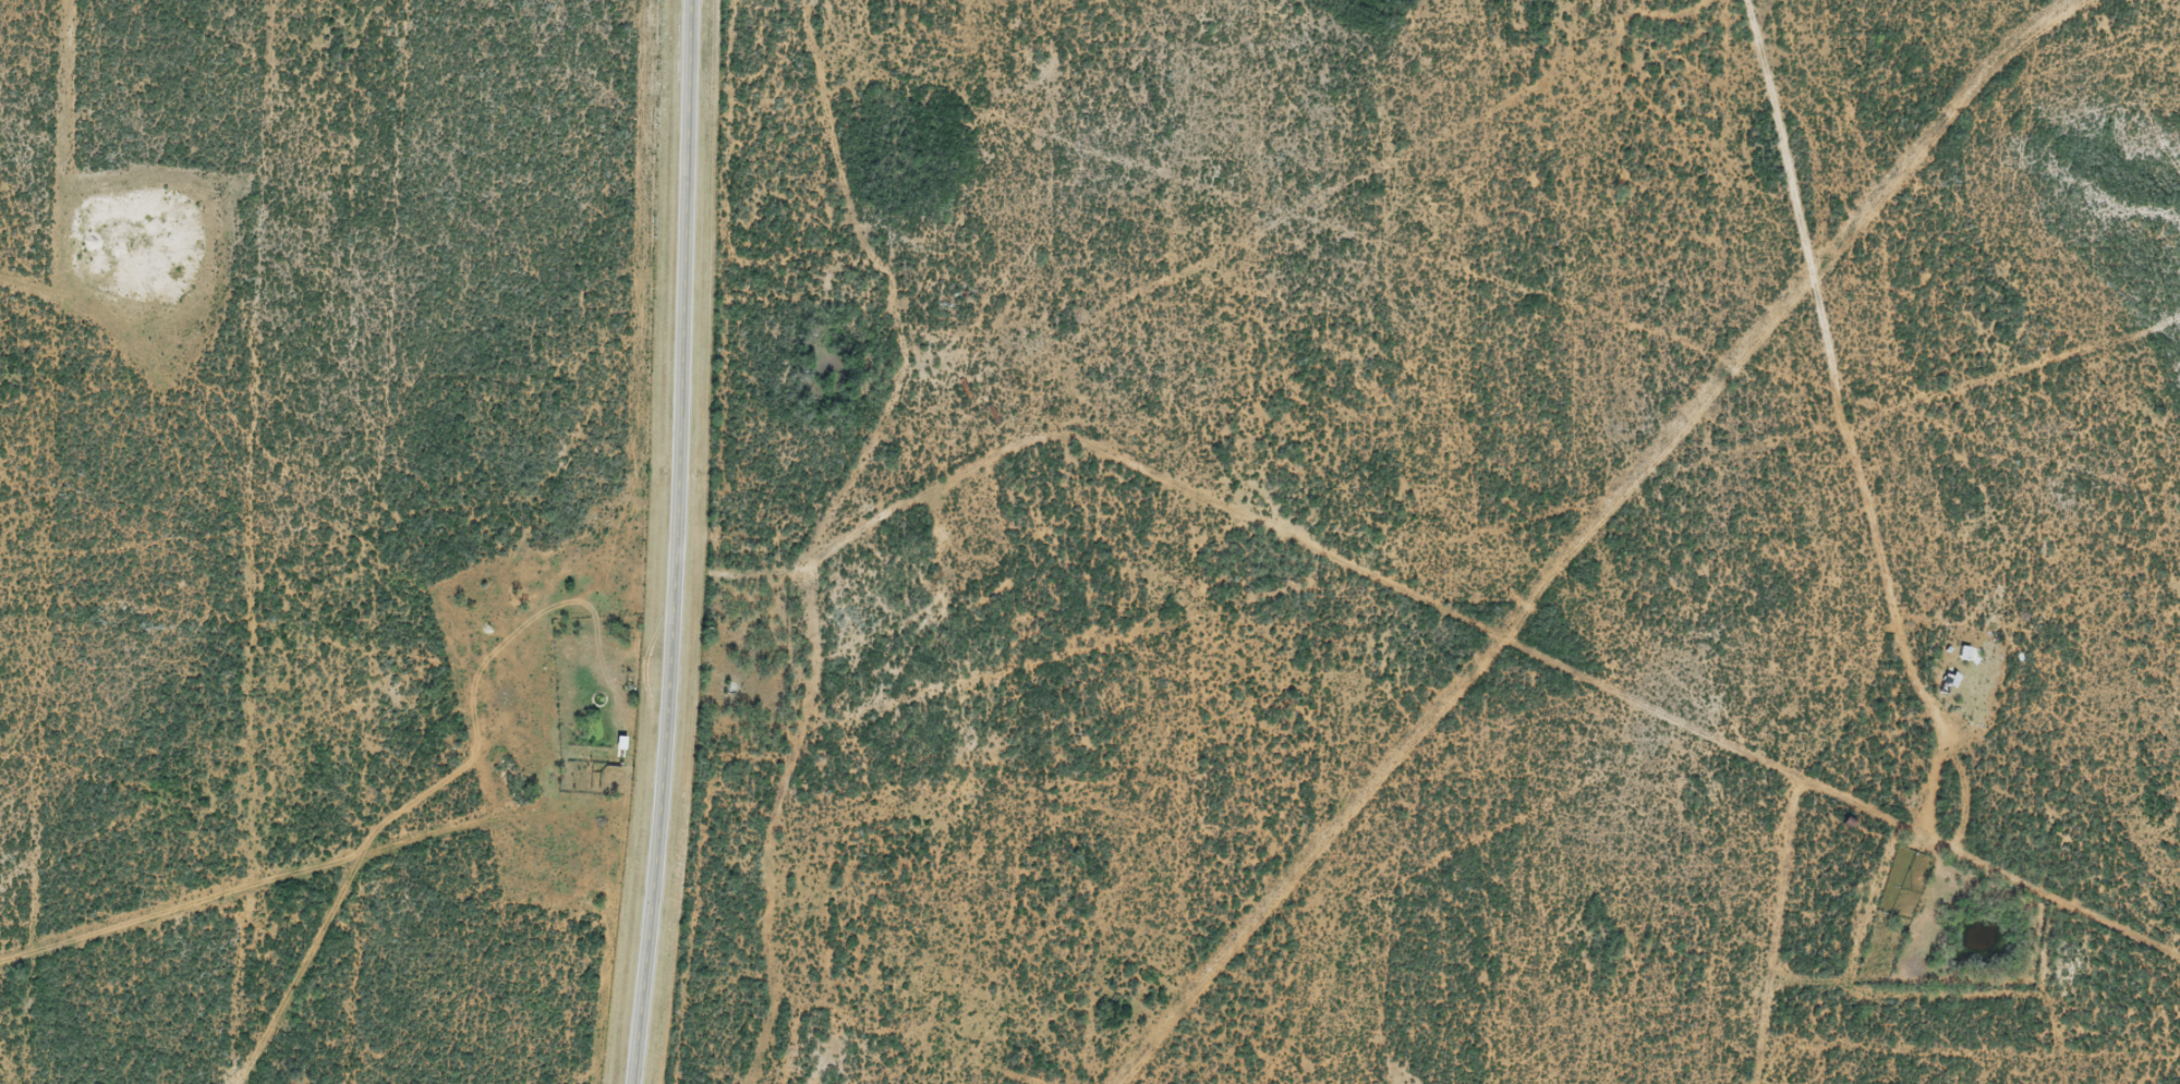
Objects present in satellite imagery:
road: (677, 543)
road: (1436, 606)

